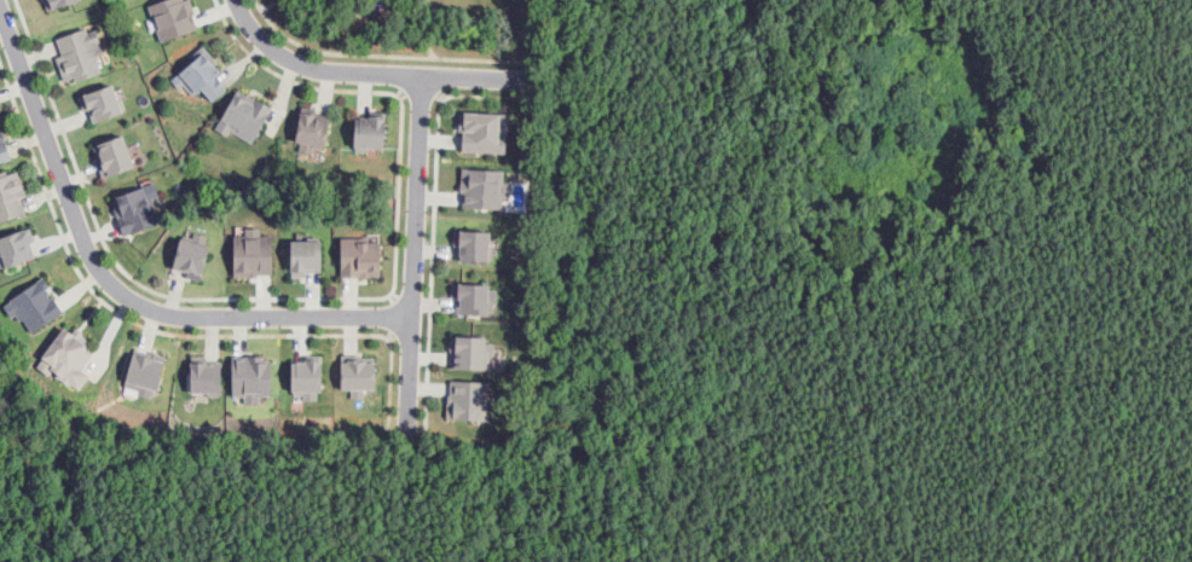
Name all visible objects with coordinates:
building: (59, 2)
building: (172, 17)
building: (79, 52)
building: (199, 75)
road: (354, 75)
building: (100, 102)
building: (243, 115)
building: (312, 129)
building: (369, 129)
building: (482, 131)
building: (4, 149)
building: (112, 153)
building: (482, 186)
building: (11, 193)
building: (137, 207)
building: (473, 243)
building: (16, 245)
building: (253, 253)
building: (191, 254)
building: (305, 255)
building: (360, 256)
road: (413, 260)
road: (114, 291)
building: (33, 305)
building: (475, 350)
building: (66, 357)
building: (143, 373)
building: (204, 373)
building: (358, 373)
building: (250, 376)
building: (307, 376)
building: (467, 399)

